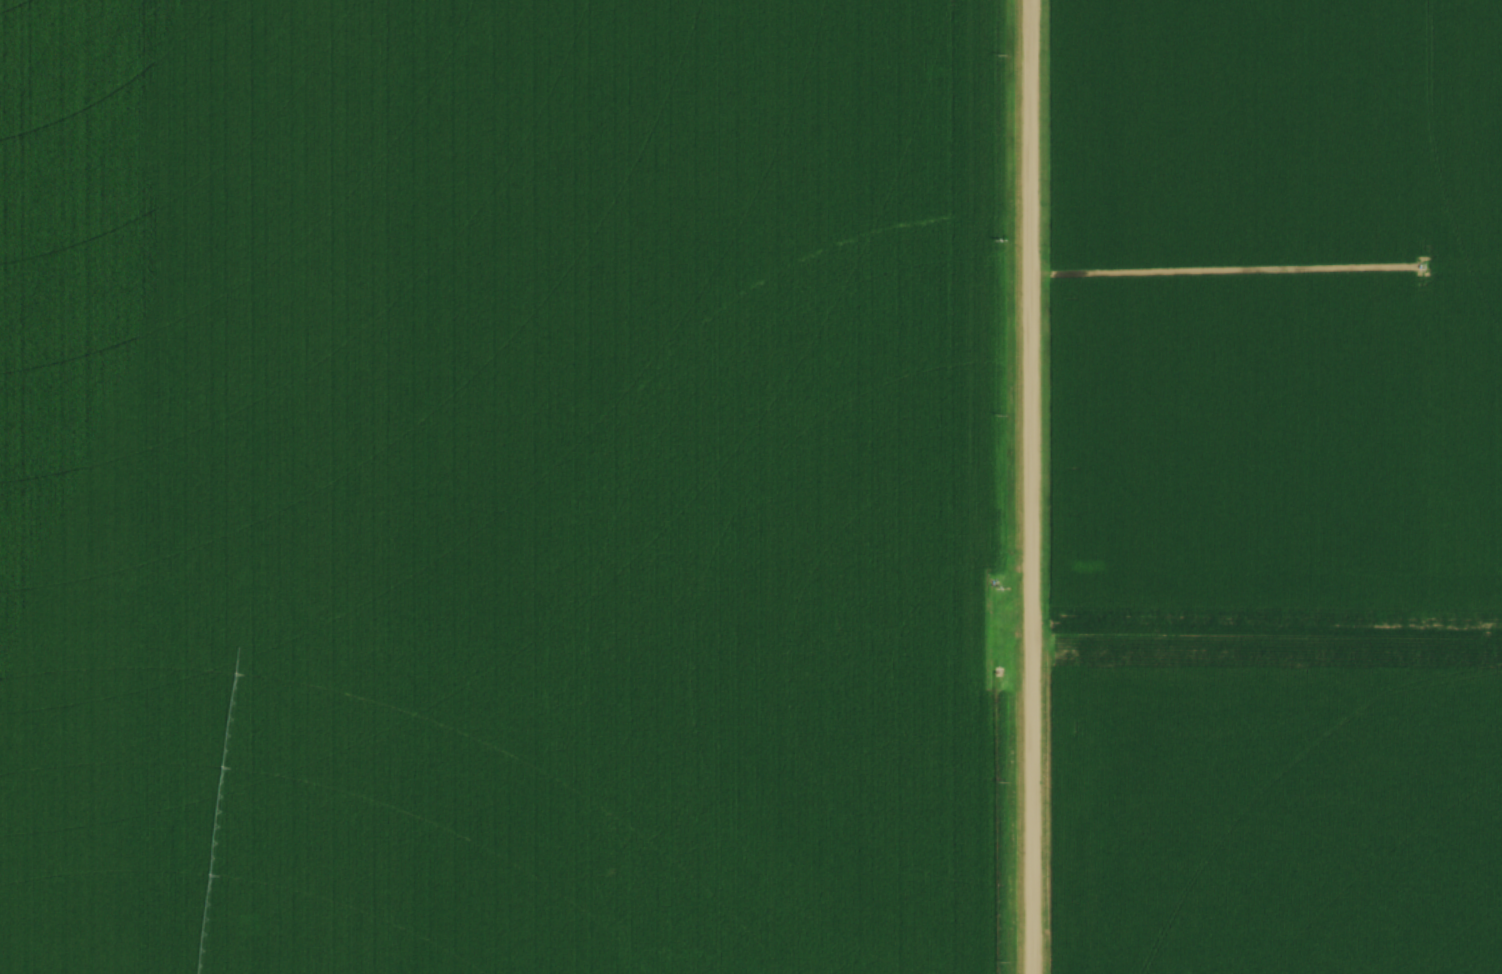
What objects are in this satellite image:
road: (1022, 486)

